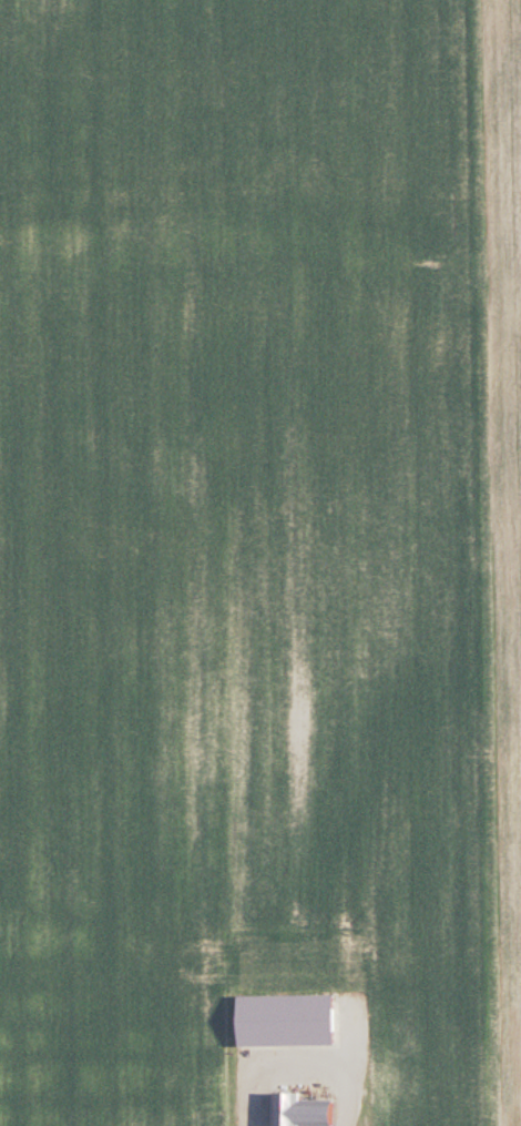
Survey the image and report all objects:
road: (300, 1066)
building: (299, 1110)

